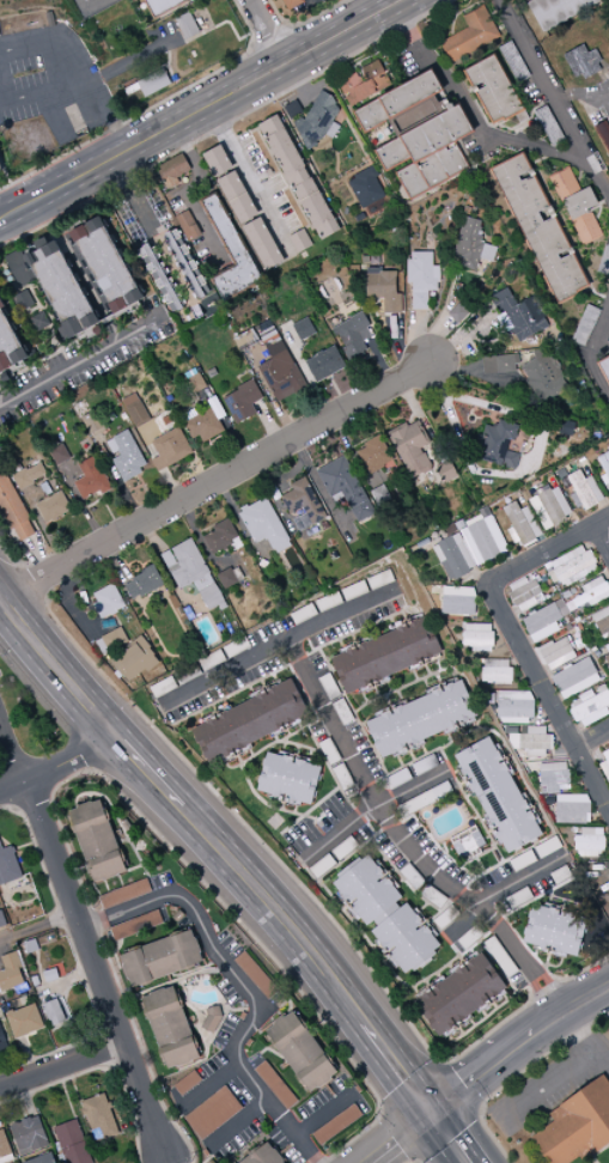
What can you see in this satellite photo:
building: (84, 0)
building: (87, 0)
building: (315, 1)
road: (312, 2)
road: (318, 2)
building: (292, 4)
building: (163, 6)
road: (90, 7)
building: (559, 11)
building: (49, 19)
road: (303, 23)
building: (188, 26)
road: (333, 26)
road: (266, 28)
road: (287, 28)
road: (232, 30)
building: (470, 35)
road: (273, 41)
road: (255, 45)
road: (318, 57)
building: (513, 62)
building: (581, 62)
road: (77, 68)
road: (156, 71)
road: (171, 73)
road: (243, 75)
road: (93, 79)
building: (154, 83)
building: (363, 83)
road: (2, 89)
building: (133, 89)
building: (493, 90)
building: (410, 93)
road: (553, 101)
road: (150, 108)
building: (370, 116)
road: (477, 116)
building: (317, 118)
road: (225, 123)
building: (548, 126)
road: (170, 127)
building: (603, 134)
building: (427, 152)
building: (217, 162)
building: (0, 169)
road: (5, 170)
building: (172, 171)
building: (0, 172)
road: (244, 172)
building: (298, 177)
road: (66, 184)
building: (230, 185)
building: (365, 188)
building: (577, 207)
building: (243, 208)
building: (538, 230)
building: (299, 240)
building: (262, 244)
building: (470, 245)
building: (230, 251)
building: (604, 260)
building: (187, 263)
building: (105, 266)
building: (421, 278)
building: (53, 284)
building: (383, 290)
building: (518, 315)
road: (598, 328)
building: (303, 329)
building: (354, 336)
building: (578, 336)
building: (8, 345)
road: (77, 363)
building: (506, 364)
building: (322, 365)
building: (604, 367)
building: (279, 373)
road: (597, 375)
building: (543, 376)
building: (195, 383)
building: (242, 401)
building: (138, 419)
building: (92, 421)
building: (205, 422)
building: (498, 444)
building: (410, 447)
building: (170, 449)
building: (59, 455)
building: (126, 456)
building: (373, 457)
building: (604, 469)
building: (445, 470)
building: (29, 476)
building: (90, 480)
road: (214, 481)
building: (345, 487)
building: (583, 491)
building: (302, 504)
building: (53, 507)
building: (549, 507)
building: (13, 511)
building: (263, 525)
building: (520, 525)
building: (220, 536)
road: (603, 537)
building: (470, 546)
building: (570, 567)
building: (191, 572)
building: (230, 577)
building: (379, 579)
building: (142, 583)
building: (353, 591)
building: (525, 592)
building: (592, 592)
building: (106, 601)
building: (458, 601)
building: (305, 611)
building: (544, 621)
building: (602, 621)
building: (477, 637)
road: (519, 639)
building: (605, 651)
road: (284, 652)
building: (556, 653)
building: (382, 656)
building: (134, 660)
road: (59, 671)
building: (495, 671)
building: (574, 678)
building: (590, 705)
building: (514, 706)
building: (421, 719)
building: (249, 721)
building: (532, 741)
road: (592, 741)
road: (59, 763)
building: (424, 765)
building: (604, 766)
road: (151, 771)
building: (554, 777)
building: (288, 779)
building: (498, 797)
building: (426, 798)
building: (572, 809)
road: (374, 811)
building: (97, 841)
building: (467, 841)
building: (589, 841)
road: (266, 845)
road: (408, 845)
building: (8, 866)
road: (522, 881)
building: (123, 894)
building: (605, 908)
road: (278, 909)
road: (111, 915)
building: (386, 915)
building: (1, 920)
road: (95, 921)
road: (39, 926)
building: (134, 926)
building: (554, 930)
road: (87, 937)
building: (160, 958)
building: (10, 973)
building: (255, 975)
building: (458, 994)
road: (254, 1003)
building: (55, 1011)
building: (211, 1019)
building: (24, 1021)
building: (170, 1027)
building: (2, 1040)
road: (520, 1043)
building: (300, 1052)
road: (400, 1066)
road: (65, 1070)
building: (275, 1085)
road: (532, 1100)
building: (212, 1113)
traffic signals: (434, 1113)
building: (98, 1118)
building: (336, 1125)
building: (577, 1125)
building: (28, 1135)
road: (452, 1137)
road: (402, 1138)
building: (72, 1143)
building: (4, 1146)
building: (264, 1156)
building: (42, 1159)
road: (169, 1161)

